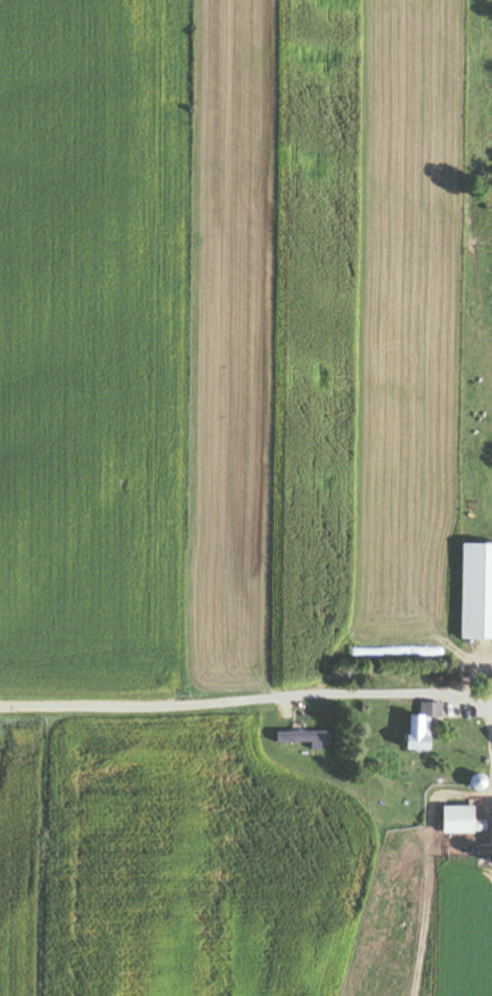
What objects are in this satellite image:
building: (474, 592)
road: (246, 703)
building: (416, 728)
building: (300, 739)
building: (452, 820)
building: (487, 826)

